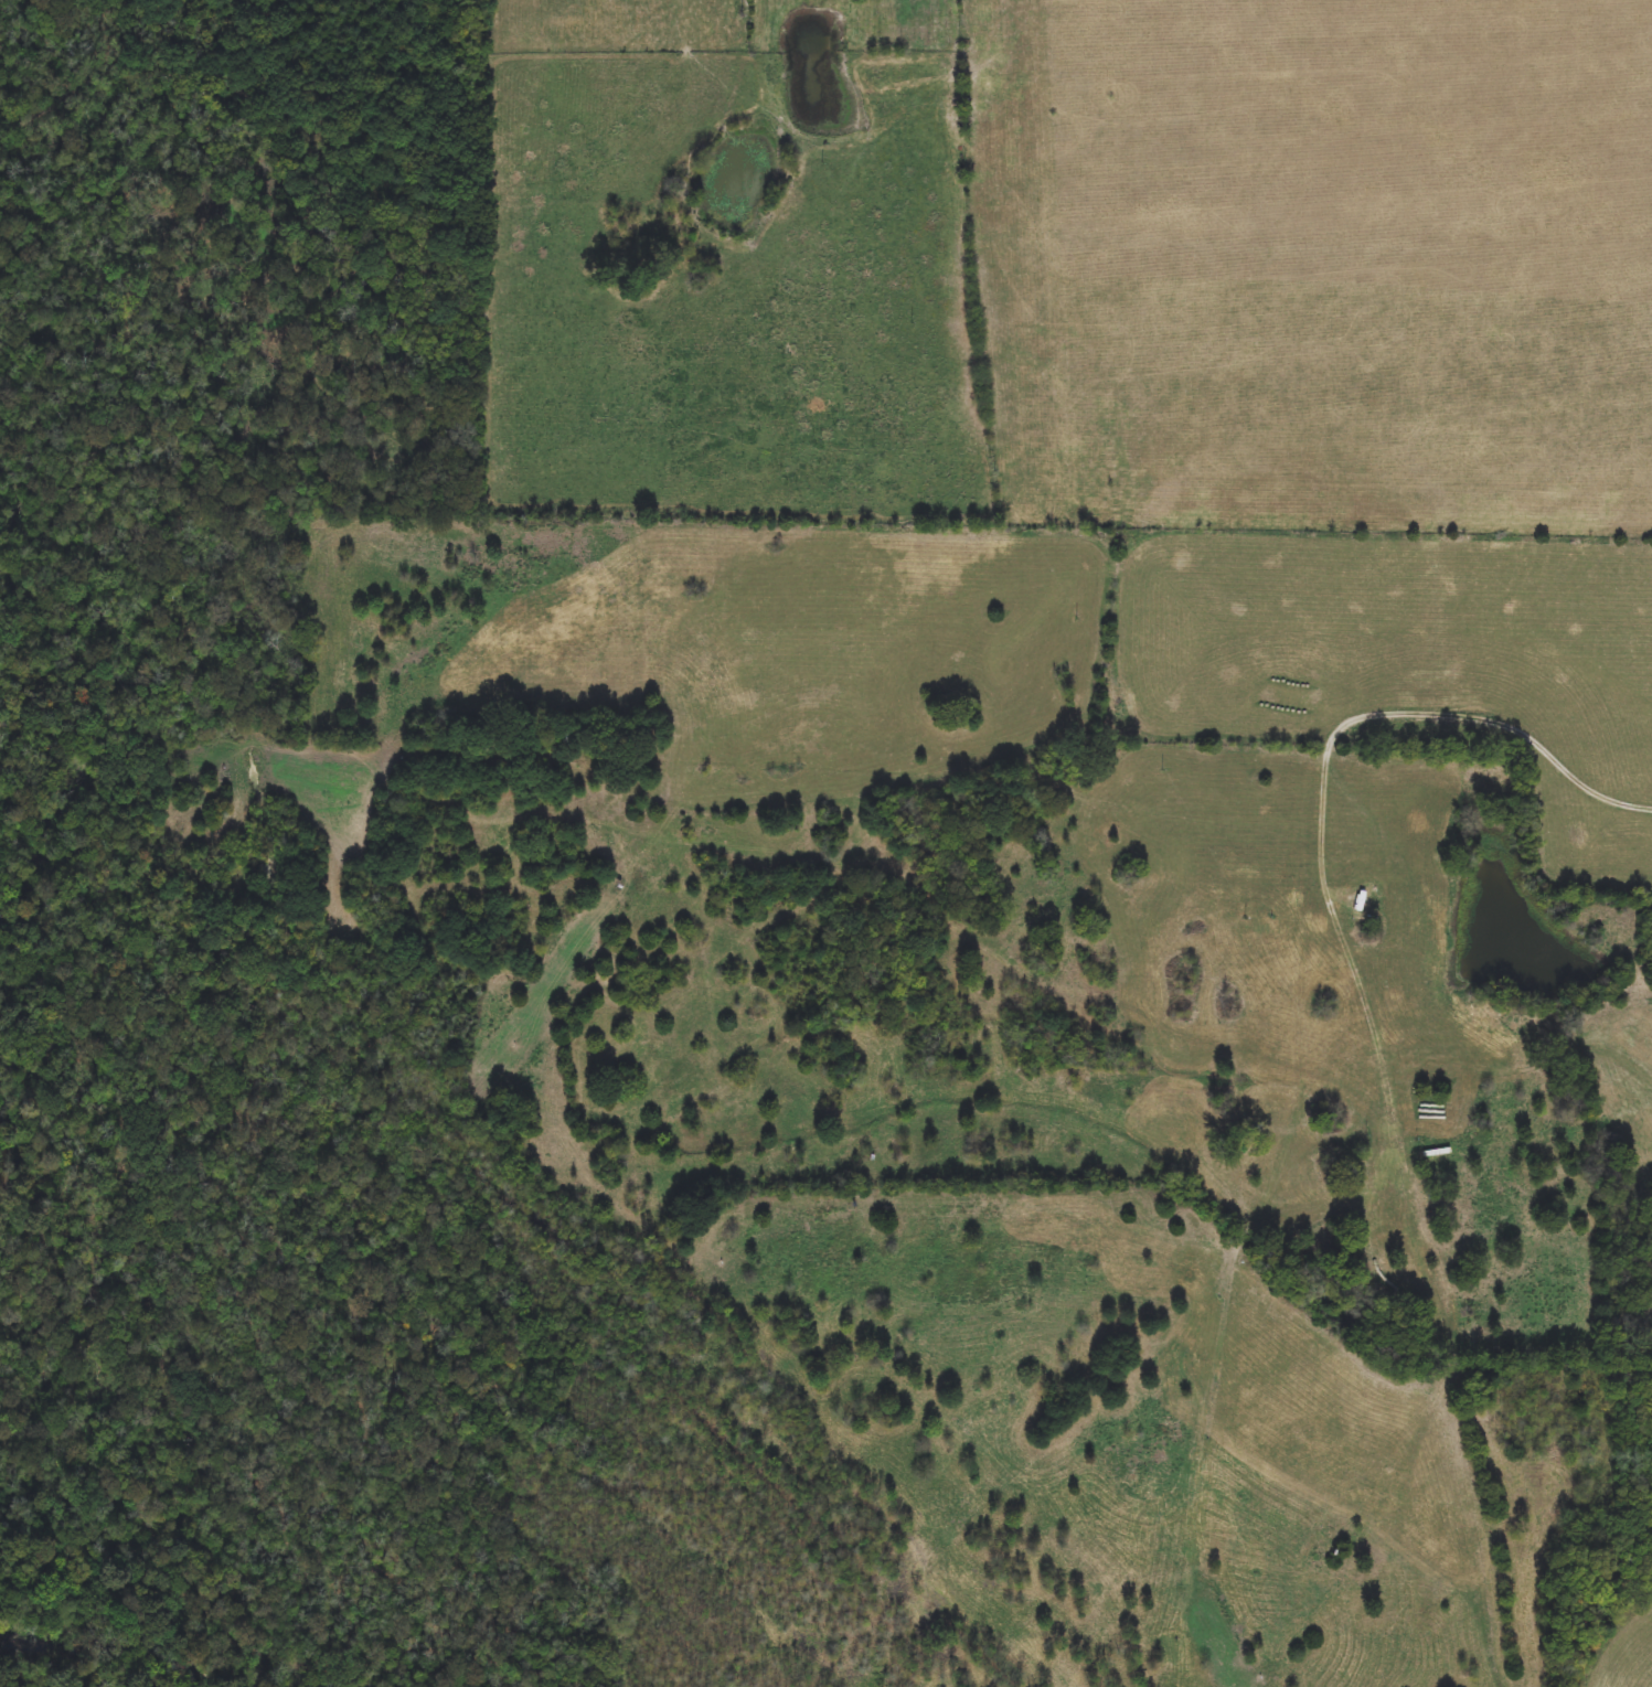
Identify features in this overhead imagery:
road: (1330, 764)
river: (20, 1153)
river: (109, 1653)

